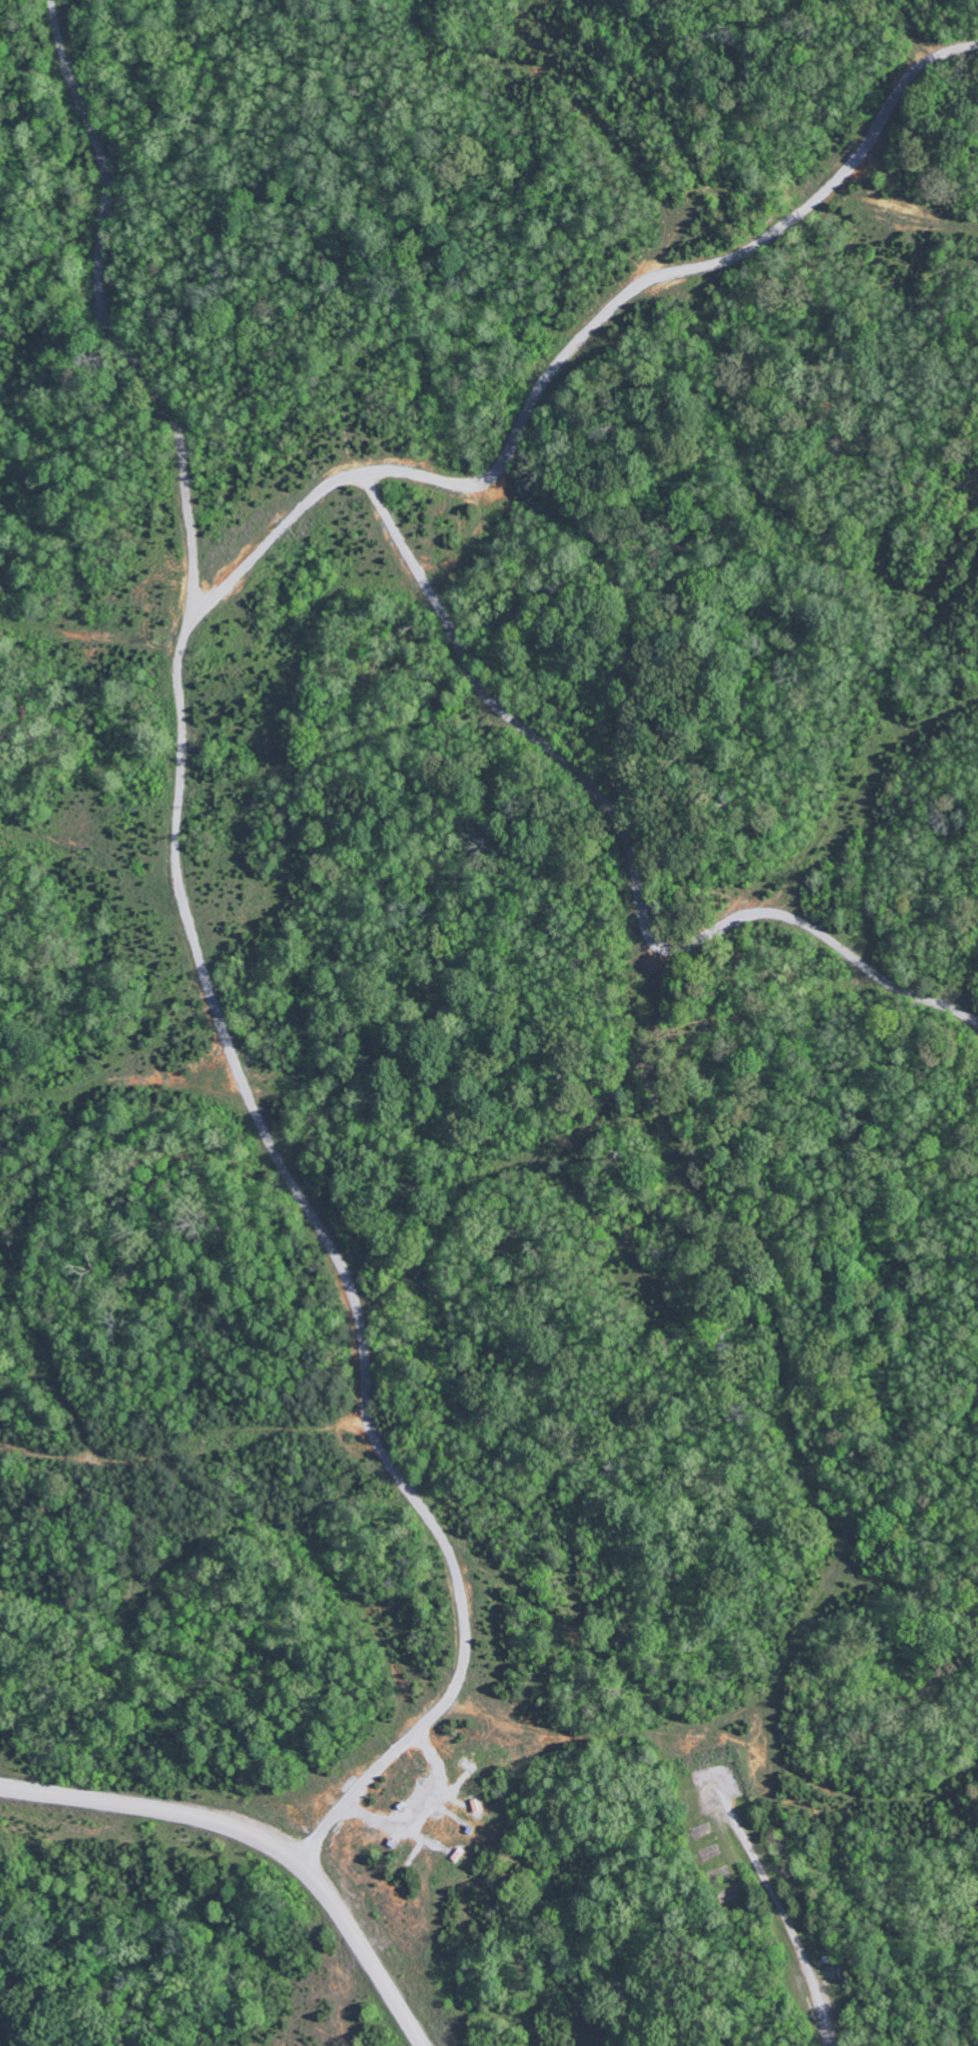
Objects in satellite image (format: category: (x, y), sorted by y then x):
road: (260, 1839)

